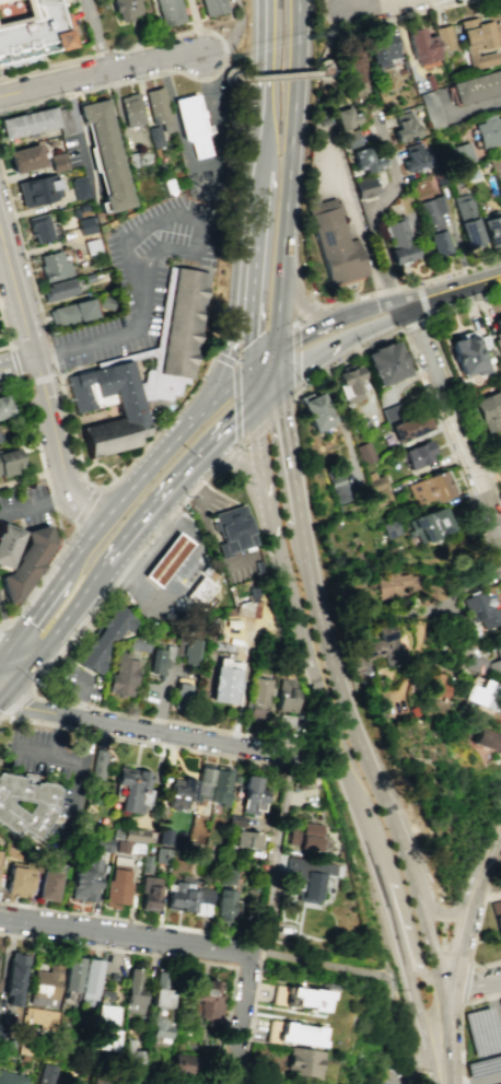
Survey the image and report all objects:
building: (2, 0)
road: (341, 3)
road: (345, 3)
road: (370, 3)
building: (211, 7)
building: (125, 9)
building: (168, 11)
road: (195, 25)
building: (33, 31)
road: (201, 31)
road: (96, 34)
road: (232, 35)
road: (266, 35)
building: (444, 38)
building: (480, 39)
building: (420, 42)
road: (326, 45)
building: (382, 49)
road: (329, 62)
road: (231, 65)
building: (358, 67)
road: (98, 71)
road: (225, 73)
road: (276, 75)
flagpole: (182, 85)
building: (477, 86)
road: (68, 93)
road: (31, 102)
building: (156, 104)
building: (432, 109)
building: (131, 110)
road: (263, 114)
building: (345, 118)
building: (62, 120)
building: (27, 123)
building: (191, 123)
building: (405, 128)
building: (489, 131)
building: (154, 135)
road: (80, 139)
building: (350, 140)
parking lot: (70, 150)
building: (464, 154)
building: (105, 155)
building: (24, 159)
building: (415, 159)
building: (57, 161)
building: (364, 161)
building: (470, 173)
road: (291, 174)
parking lot: (330, 174)
building: (79, 186)
building: (366, 188)
building: (38, 189)
road: (11, 207)
road: (372, 209)
building: (469, 219)
road: (191, 220)
building: (435, 223)
building: (84, 224)
building: (39, 228)
road: (255, 230)
building: (492, 230)
road: (360, 236)
building: (398, 238)
building: (335, 249)
road: (24, 254)
road: (5, 264)
building: (53, 266)
road: (459, 271)
parking lot: (143, 276)
building: (58, 289)
road: (299, 294)
road: (446, 294)
road: (366, 296)
road: (423, 300)
traffic signals: (250, 302)
building: (105, 303)
road: (465, 304)
road: (38, 307)
road: (381, 310)
building: (71, 312)
building: (183, 323)
road: (416, 323)
road: (323, 324)
road: (376, 324)
road: (4, 328)
building: (497, 331)
road: (250, 337)
road: (123, 338)
road: (4, 347)
traffic signals: (279, 349)
road: (316, 353)
building: (465, 354)
road: (347, 357)
road: (45, 361)
road: (265, 361)
road: (13, 363)
building: (386, 363)
road: (279, 364)
road: (18, 368)
road: (221, 371)
traffic signals: (252, 373)
road: (40, 377)
road: (42, 380)
traffic signals: (280, 381)
building: (352, 381)
road: (295, 383)
building: (158, 384)
road: (253, 391)
road: (65, 394)
road: (267, 394)
road: (26, 401)
road: (215, 403)
building: (4, 406)
building: (487, 406)
building: (128, 408)
road: (235, 408)
traffic signals: (254, 408)
building: (393, 411)
road: (464, 411)
building: (316, 412)
road: (454, 423)
building: (409, 427)
traffic signals: (180, 433)
road: (224, 436)
road: (448, 446)
road: (259, 450)
road: (141, 452)
building: (364, 452)
building: (418, 454)
road: (94, 458)
building: (8, 461)
road: (235, 464)
road: (101, 465)
road: (488, 470)
road: (293, 474)
road: (211, 475)
road: (138, 477)
building: (0, 480)
building: (377, 483)
building: (337, 486)
building: (429, 487)
building: (380, 497)
road: (35, 502)
road: (163, 503)
road: (86, 505)
parking lot: (27, 506)
building: (429, 524)
road: (60, 528)
building: (389, 528)
building: (232, 531)
road: (70, 537)
road: (81, 548)
road: (121, 552)
building: (23, 559)
building: (165, 559)
road: (498, 571)
building: (391, 584)
building: (200, 591)
road: (439, 603)
building: (482, 609)
road: (37, 613)
road: (75, 614)
road: (1, 625)
road: (1, 627)
road: (5, 633)
building: (104, 641)
building: (375, 648)
building: (190, 652)
road: (7, 654)
traffic signals: (13, 654)
building: (470, 655)
road: (410, 657)
road: (24, 658)
building: (155, 662)
traffic signals: (35, 663)
road: (7, 672)
building: (123, 675)
road: (18, 676)
building: (224, 680)
road: (241, 681)
parking lot: (79, 683)
building: (436, 686)
traffic signals: (0, 689)
road: (32, 691)
building: (179, 693)
building: (481, 693)
building: (283, 696)
building: (258, 698)
road: (19, 703)
road: (27, 706)
road: (0, 715)
road: (353, 716)
building: (283, 722)
road: (56, 735)
road: (180, 735)
building: (488, 739)
road: (144, 741)
building: (97, 764)
road: (342, 765)
road: (79, 772)
building: (202, 782)
building: (219, 786)
building: (130, 788)
building: (250, 789)
building: (179, 792)
building: (40, 806)
building: (235, 820)
building: (128, 834)
building: (163, 836)
building: (304, 836)
building: (246, 839)
building: (102, 843)
building: (0, 853)
building: (163, 855)
road: (275, 856)
road: (490, 862)
building: (147, 863)
building: (228, 876)
building: (306, 876)
building: (84, 878)
building: (16, 882)
building: (47, 885)
building: (117, 886)
road: (485, 886)
building: (149, 893)
building: (202, 895)
road: (464, 895)
building: (180, 896)
building: (224, 902)
building: (497, 916)
road: (477, 924)
road: (189, 928)
road: (125, 935)
road: (428, 942)
road: (413, 947)
railway: (455, 947)
road: (462, 949)
road: (149, 954)
road: (337, 966)
building: (72, 974)
building: (14, 978)
building: (90, 979)
road: (466, 983)
road: (474, 983)
building: (44, 988)
building: (160, 990)
building: (133, 992)
building: (305, 999)
building: (205, 1000)
road: (494, 1010)
road: (241, 1011)
building: (38, 1017)
road: (461, 1024)
building: (104, 1027)
building: (162, 1027)
building: (3, 1029)
parking lot: (485, 1029)
building: (300, 1034)
road: (448, 1050)
building: (133, 1054)
road: (413, 1059)
road: (429, 1060)
building: (304, 1061)
building: (182, 1063)
parking lot: (485, 1071)
road: (413, 1072)
building: (46, 1073)
road: (418, 1073)
parking lot: (395, 1075)
road: (228, 1076)
road: (240, 1076)
building: (11, 1077)
building: (102, 1081)
building: (265, 1081)
road: (490, 1081)
park: (416, 1082)
building: (289, 1083)

